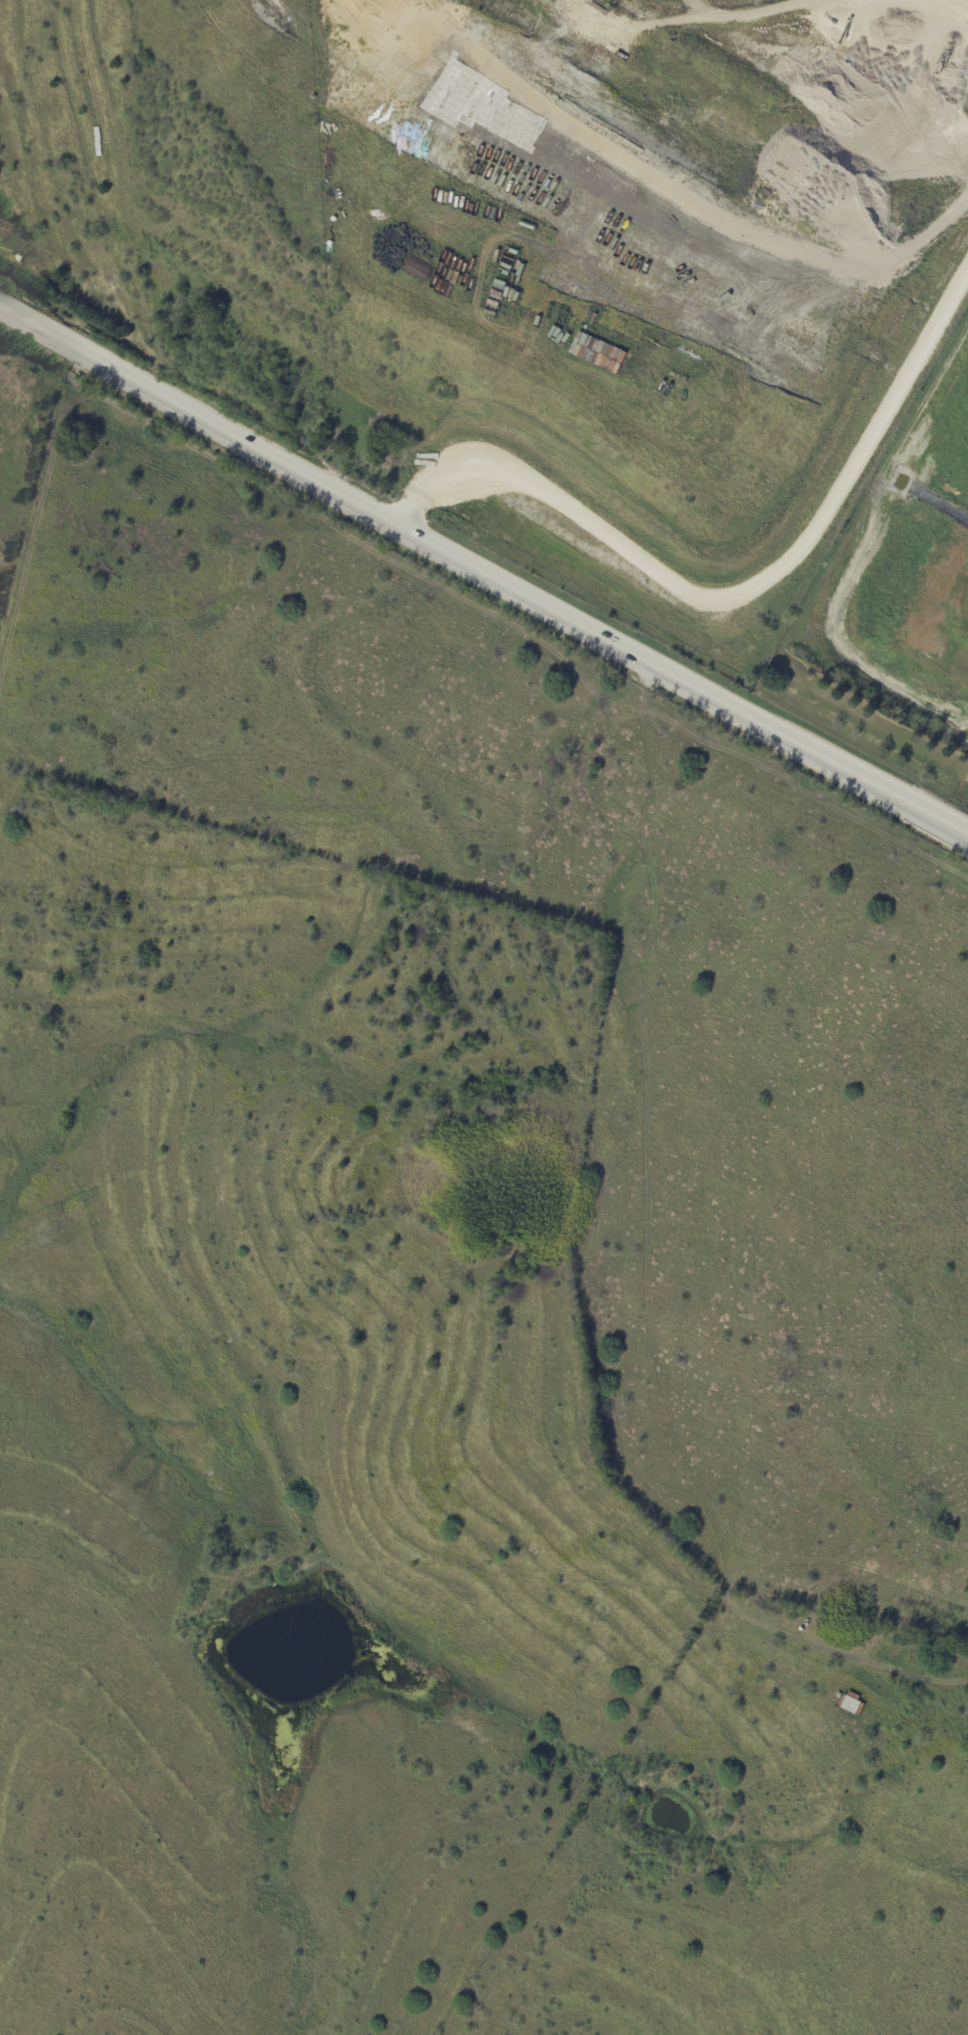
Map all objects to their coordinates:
building: (599, 353)
road: (484, 575)
landfill: (916, 586)
road: (740, 592)

